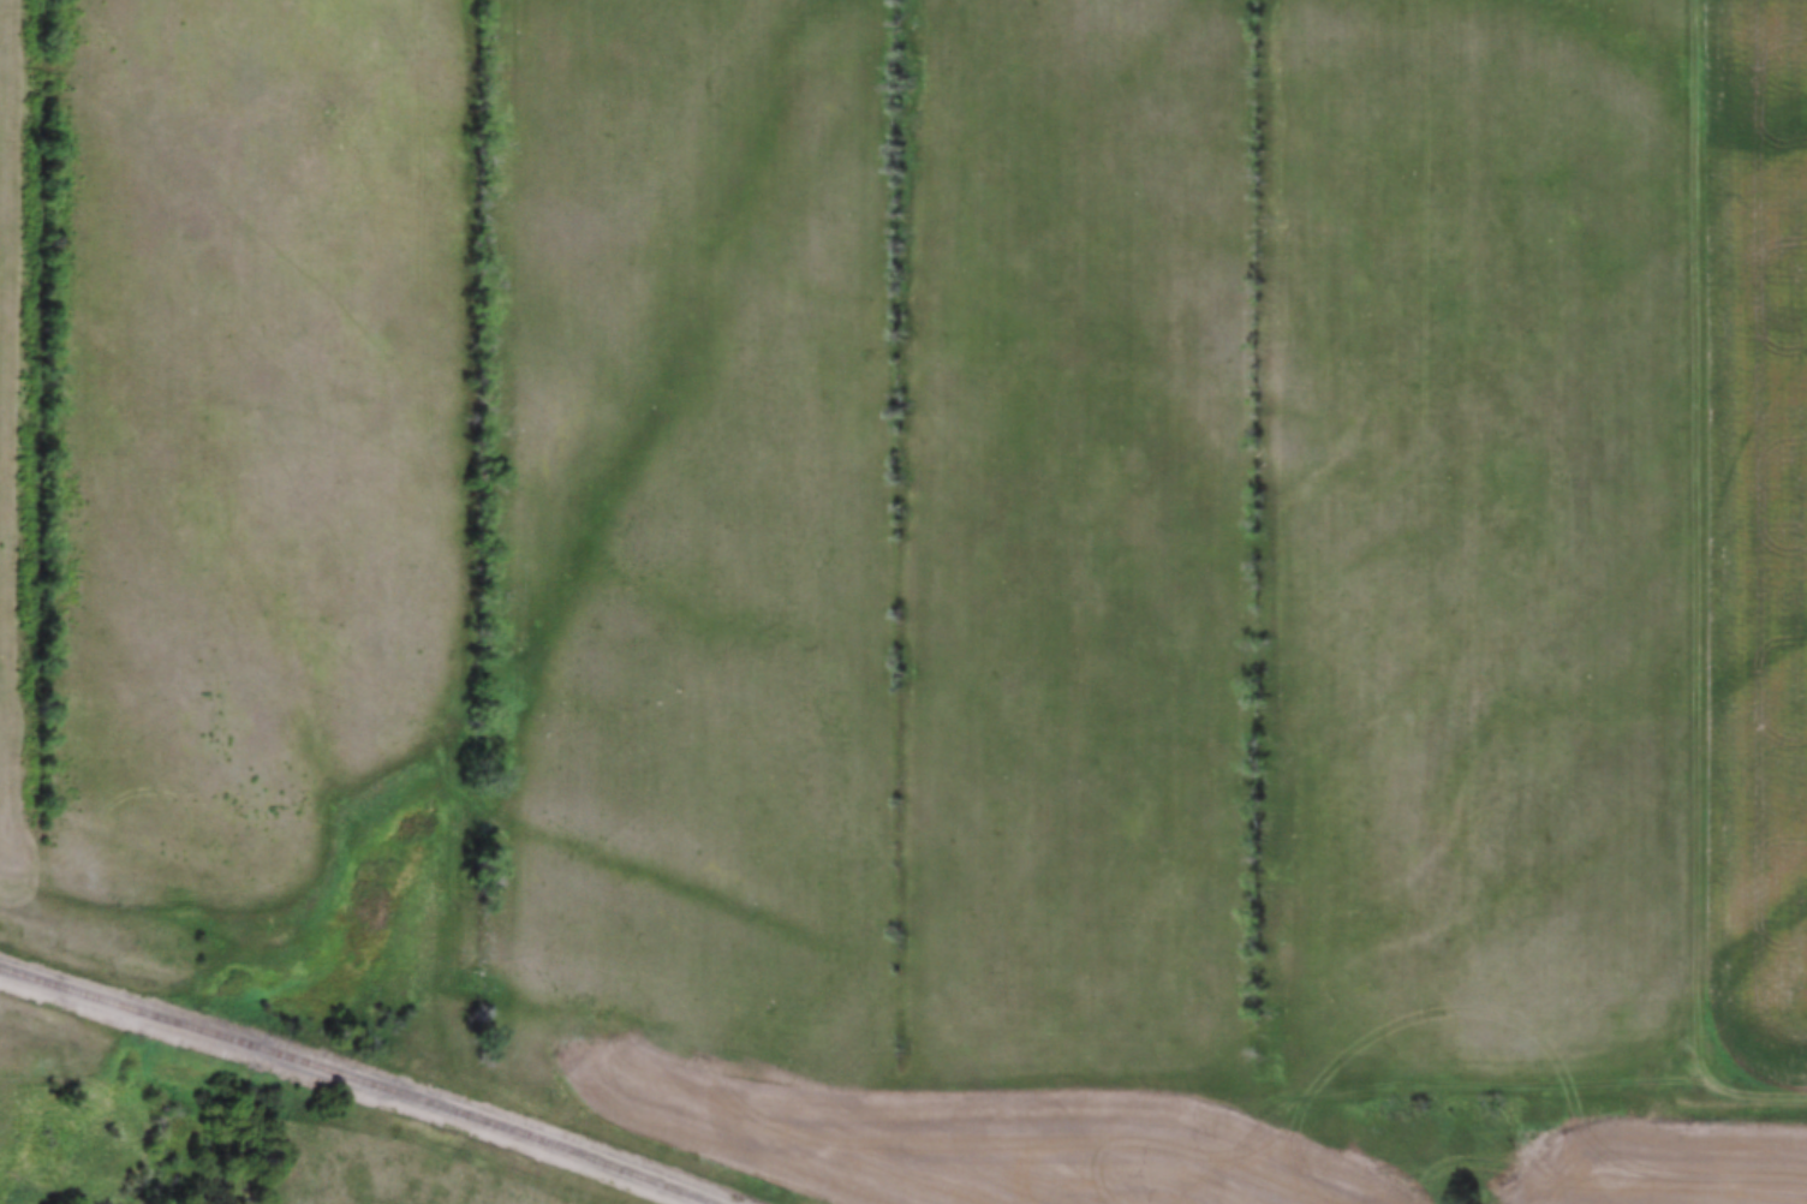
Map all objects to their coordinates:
road: (1682, 537)
road: (1367, 1072)
road: (1713, 1080)
railway: (359, 1087)

